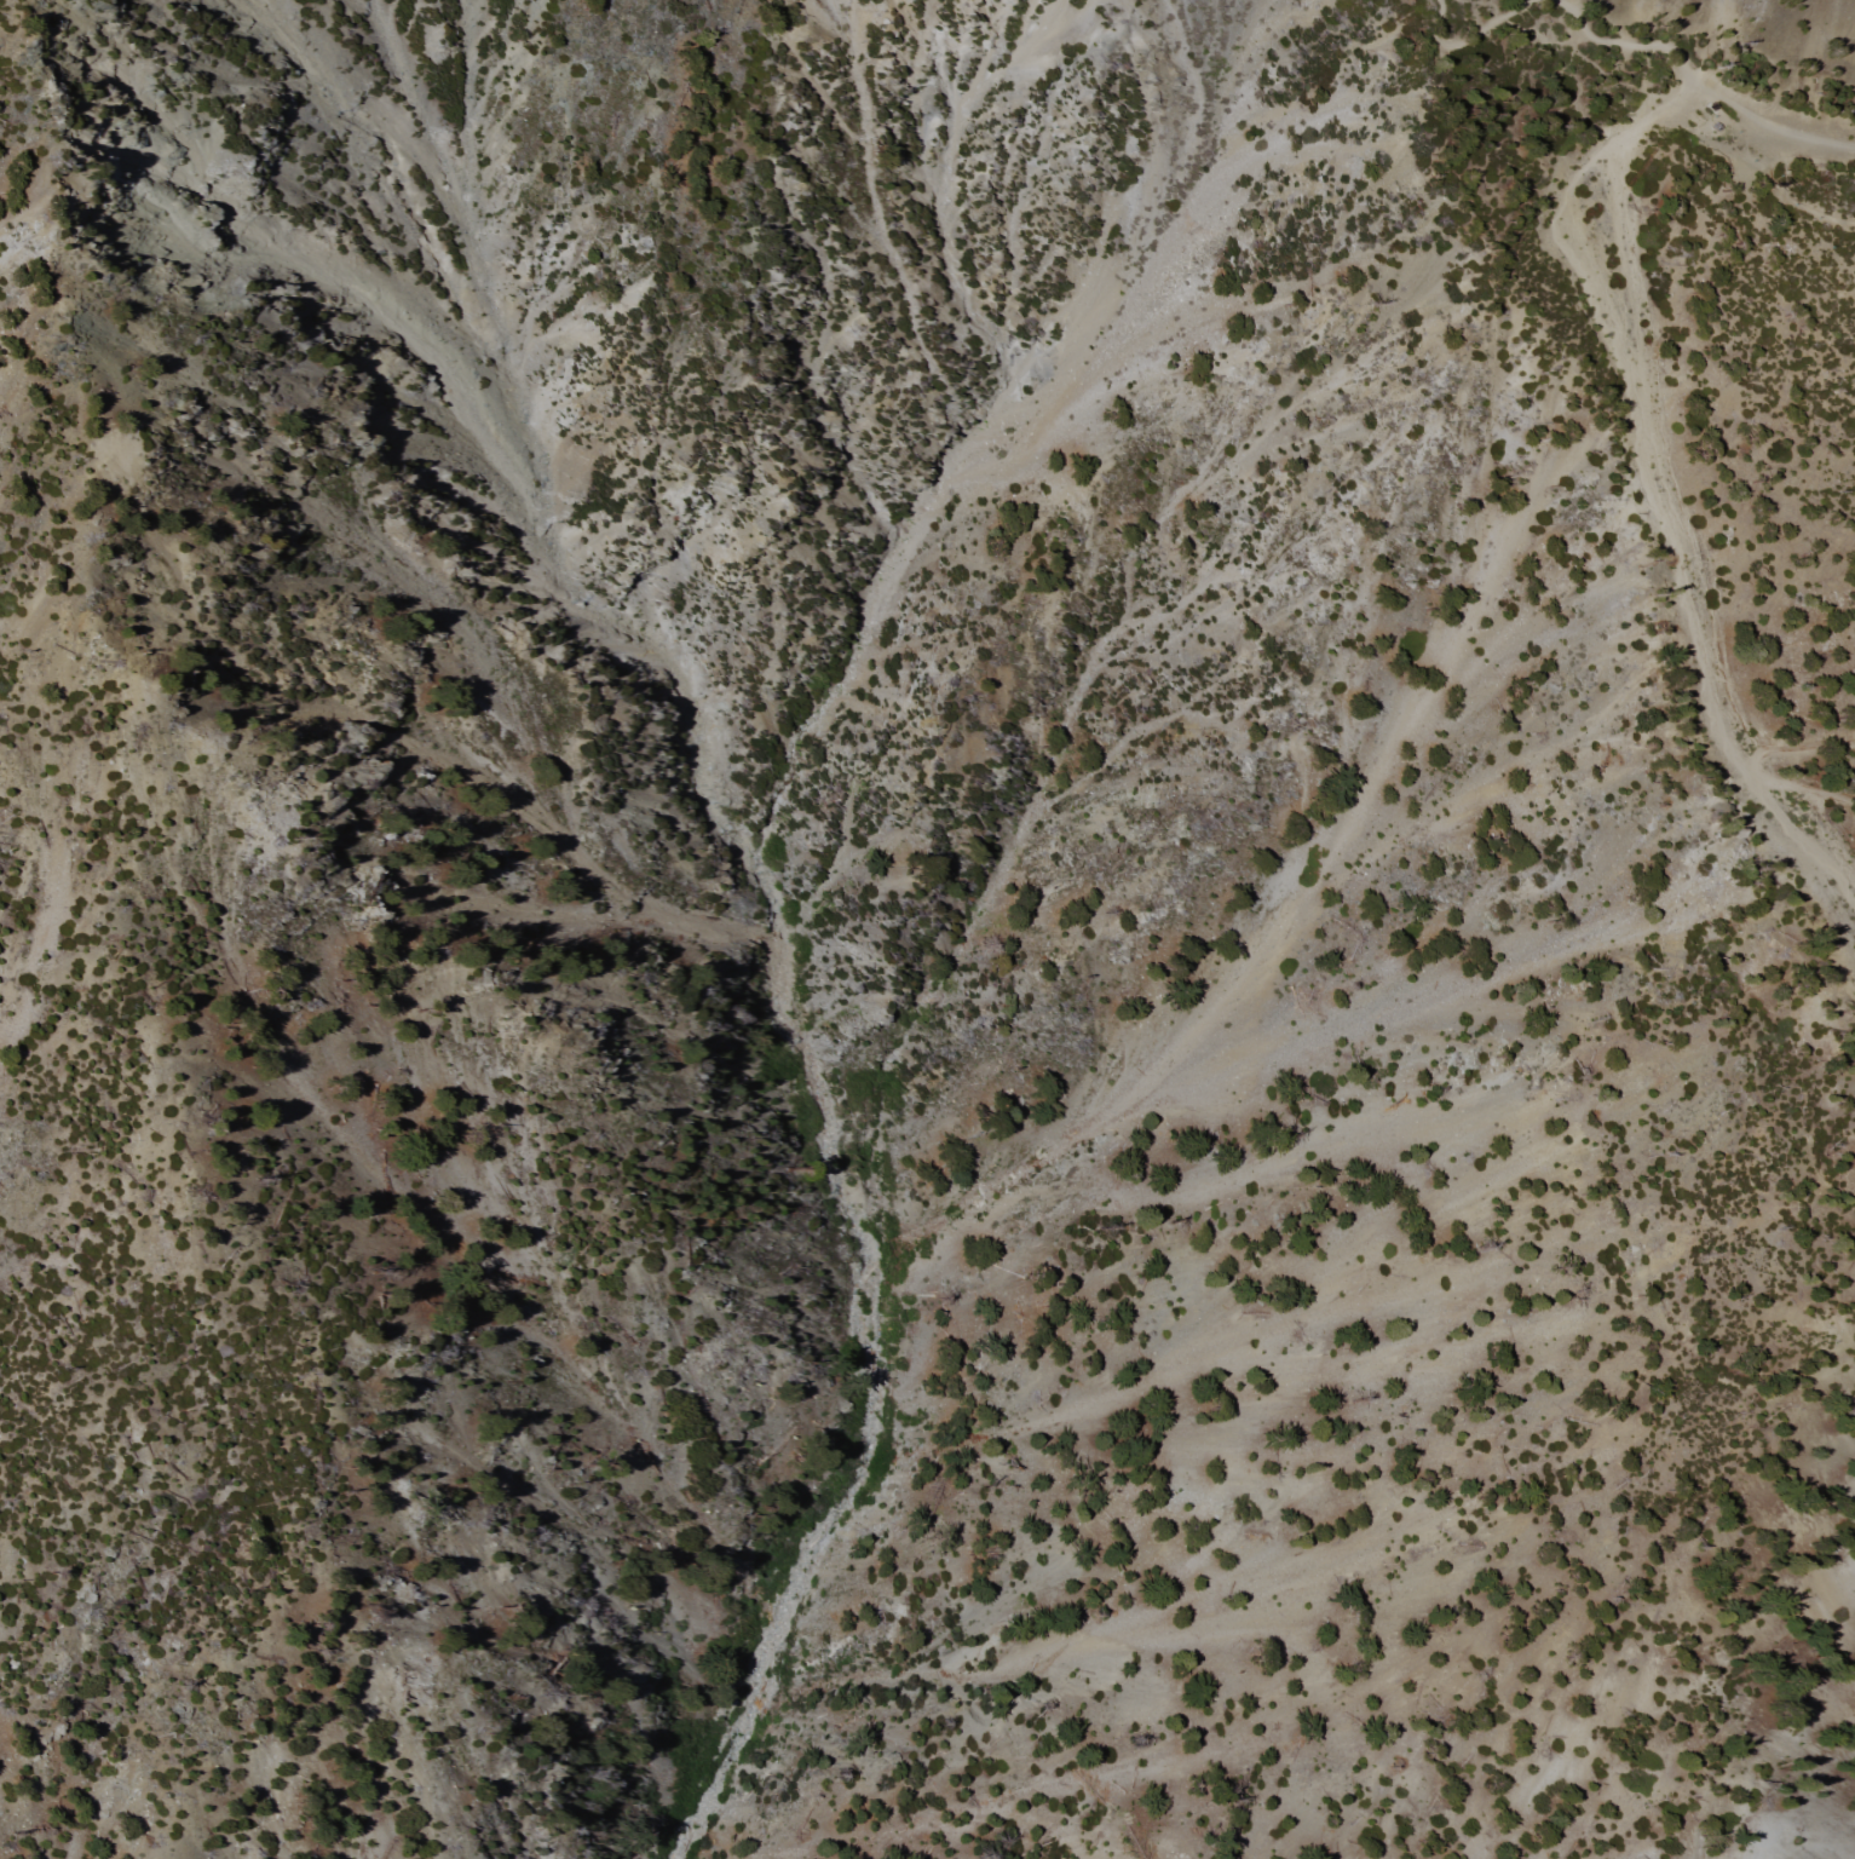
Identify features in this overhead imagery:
road: (1551, 4)
road: (1470, 40)
road: (1643, 44)
road: (1782, 127)
aerialway pylon: (1781, 188)
road: (1787, 198)
ski resort: (1713, 487)
road: (1753, 770)

